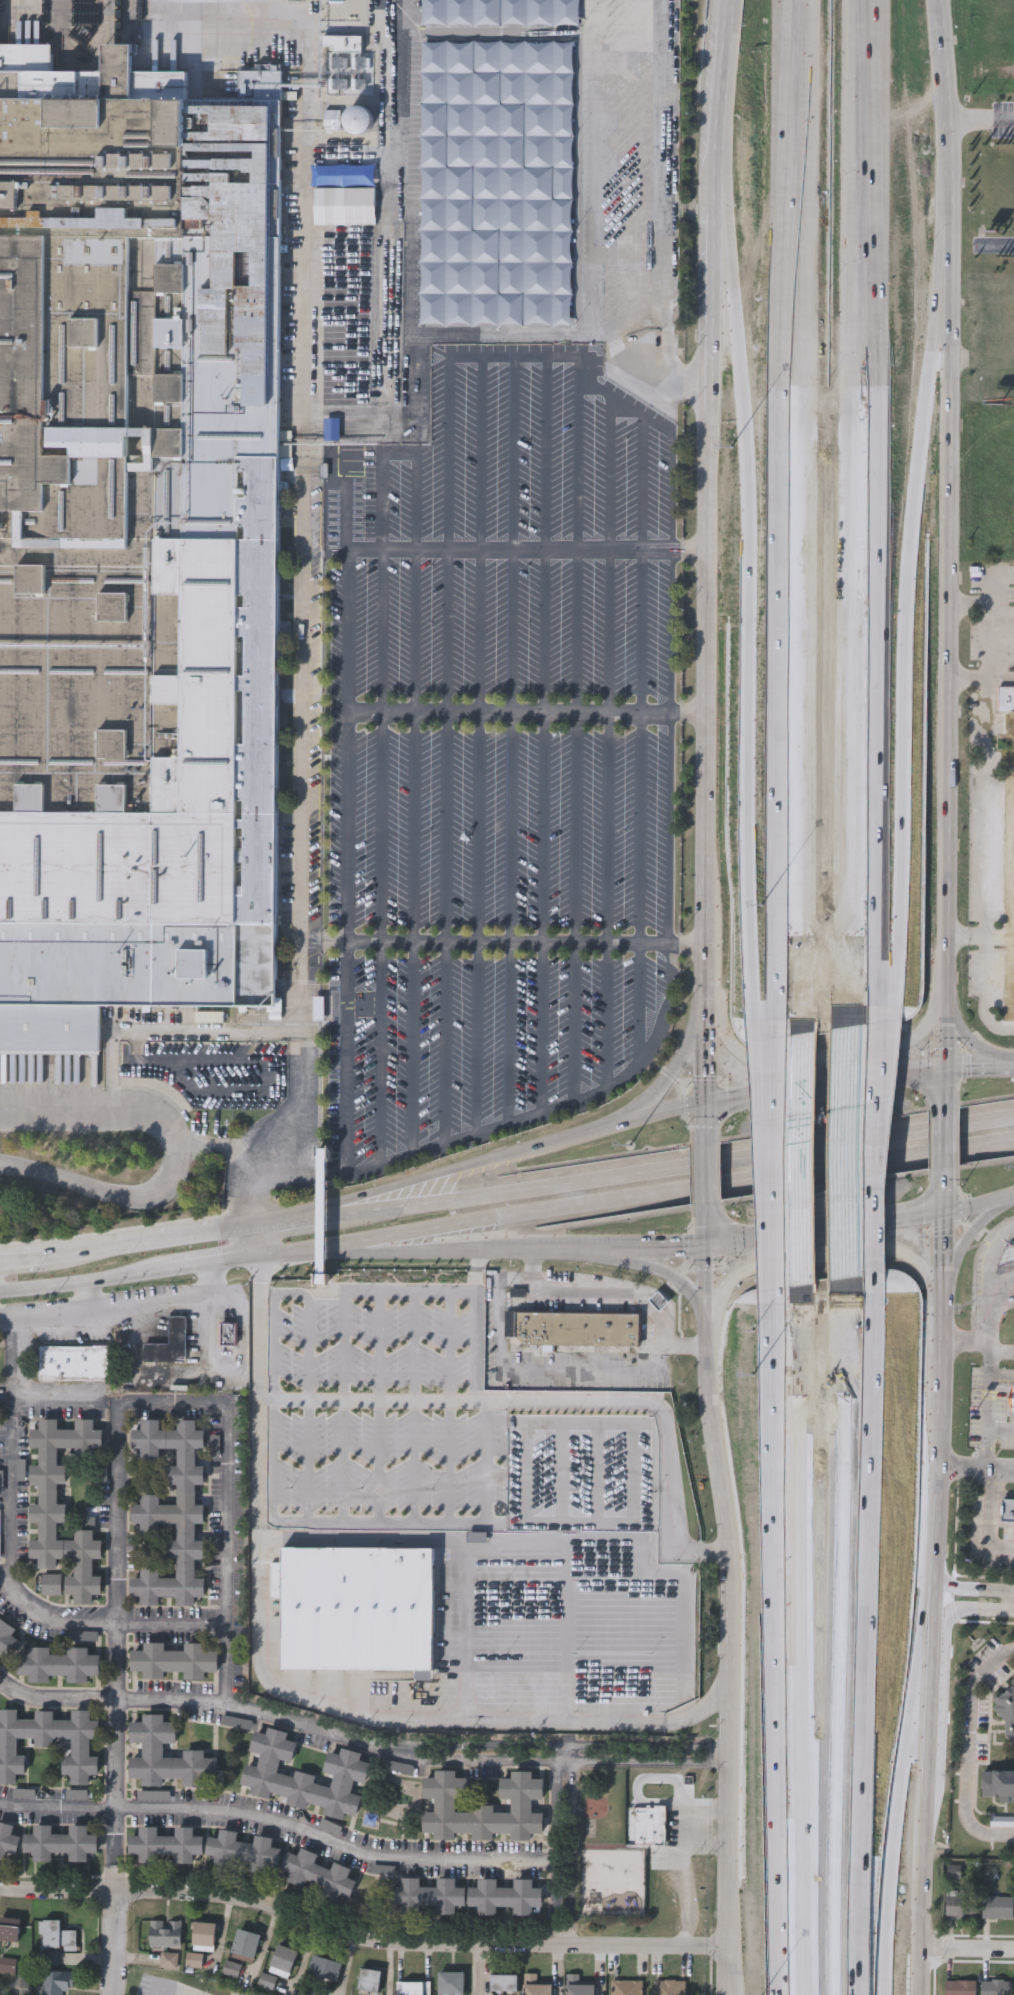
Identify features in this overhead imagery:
road: (22, 0)
railway: (115, 20)
road: (478, 32)
road: (228, 37)
road: (720, 88)
road: (951, 91)
road: (300, 94)
road: (983, 120)
building: (334, 122)
road: (301, 156)
building: (344, 177)
road: (793, 186)
road: (592, 230)
road: (1001, 245)
road: (714, 279)
building: (388, 482)
building: (408, 482)
road: (877, 511)
building: (137, 545)
road: (705, 547)
road: (489, 548)
road: (305, 579)
road: (999, 595)
road: (749, 603)
road: (914, 603)
road: (951, 627)
road: (415, 630)
road: (641, 630)
road: (989, 659)
road: (981, 679)
building: (1006, 697)
road: (790, 702)
road: (525, 712)
building: (1012, 722)
road: (670, 746)
road: (1001, 756)
road: (382, 826)
road: (414, 826)
road: (448, 827)
road: (703, 838)
building: (1010, 853)
road: (985, 901)
road: (348, 907)
road: (543, 912)
road: (510, 917)
road: (478, 921)
road: (982, 934)
road: (317, 941)
road: (498, 943)
road: (685, 944)
building: (1008, 976)
road: (218, 1030)
road: (445, 1042)
road: (968, 1043)
road: (413, 1046)
road: (380, 1050)
road: (706, 1054)
road: (678, 1065)
road: (807, 1065)
road: (979, 1069)
traffic signals: (946, 1072)
road: (918, 1076)
road: (305, 1086)
road: (946, 1089)
road: (798, 1092)
road: (72, 1102)
traffic signals: (706, 1106)
road: (555, 1107)
road: (947, 1142)
road: (525, 1154)
road: (680, 1163)
road: (877, 1164)
road: (764, 1170)
road: (791, 1170)
road: (706, 1184)
road: (135, 1195)
road: (633, 1199)
road: (247, 1204)
road: (980, 1206)
traffic signals: (946, 1215)
road: (297, 1219)
road: (856, 1227)
road: (116, 1230)
road: (706, 1234)
road: (187, 1236)
road: (421, 1241)
road: (504, 1241)
road: (573, 1241)
road: (250, 1242)
road: (736, 1242)
road: (660, 1243)
road: (944, 1244)
traffic signals: (706, 1245)
road: (87, 1251)
road: (477, 1251)
road: (966, 1252)
road: (23, 1257)
gas station: (1006, 1257)
road: (209, 1263)
road: (805, 1266)
road: (256, 1268)
road: (675, 1273)
road: (478, 1276)
road: (83, 1282)
road: (610, 1290)
road: (467, 1291)
road: (290, 1293)
road: (87, 1295)
road: (123, 1307)
road: (706, 1310)
building: (578, 1331)
building: (228, 1335)
road: (978, 1339)
building: (169, 1346)
building: (72, 1361)
road: (11, 1363)
road: (535, 1368)
road: (1001, 1376)
road: (941, 1386)
building: (1011, 1398)
road: (57, 1400)
road: (562, 1400)
road: (259, 1402)
road: (344, 1404)
road: (379, 1405)
road: (414, 1405)
road: (449, 1405)
road: (990, 1412)
road: (1002, 1431)
road: (975, 1465)
road: (792, 1473)
road: (770, 1476)
road: (1003, 1494)
road: (9, 1499)
building: (63, 1506)
building: (1007, 1511)
building: (172, 1512)
road: (437, 1520)
building: (0, 1535)
road: (656, 1544)
building: (52, 1586)
road: (225, 1589)
road: (969, 1590)
road: (106, 1618)
building: (418, 1623)
road: (116, 1632)
building: (6, 1636)
road: (568, 1637)
road: (864, 1650)
road: (1001, 1656)
building: (173, 1660)
road: (259, 1662)
building: (59, 1665)
road: (944, 1667)
road: (735, 1683)
road: (111, 1699)
building: (1004, 1709)
road: (928, 1727)
building: (49, 1743)
road: (635, 1743)
road: (481, 1744)
road: (711, 1746)
road: (726, 1750)
road: (565, 1751)
building: (155, 1754)
road: (713, 1755)
road: (481, 1757)
road: (637, 1760)
road: (565, 1762)
road: (969, 1764)
road: (560, 1767)
building: (304, 1776)
building: (997, 1786)
road: (897, 1794)
building: (483, 1807)
road: (798, 1816)
road: (278, 1824)
building: (8, 1840)
road: (570, 1842)
building: (60, 1843)
road: (709, 1844)
building: (166, 1845)
road: (556, 1846)
building: (244, 1851)
road: (686, 1856)
building: (319, 1874)
road: (115, 1877)
building: (427, 1895)
building: (505, 1896)
building: (959, 1906)
building: (995, 1907)
road: (557, 1929)
road: (565, 1929)
building: (11, 1931)
building: (166, 1936)
building: (206, 1936)
road: (362, 1937)
building: (60, 1938)
road: (561, 1940)
road: (113, 1943)
building: (248, 1944)
road: (968, 1957)
building: (169, 1962)
building: (285, 1962)
building: (8, 1967)
building: (232, 1970)
building: (326, 1970)
building: (55, 1977)
building: (372, 1982)
building: (269, 1983)
building: (452, 1984)
building: (505, 1984)
road: (174, 1987)
building: (536, 1987)
building: (579, 1987)
building: (957, 1987)
building: (994, 1987)
building: (166, 1988)
building: (627, 1988)
building: (669, 1988)
building: (417, 1989)
building: (1013, 1994)

